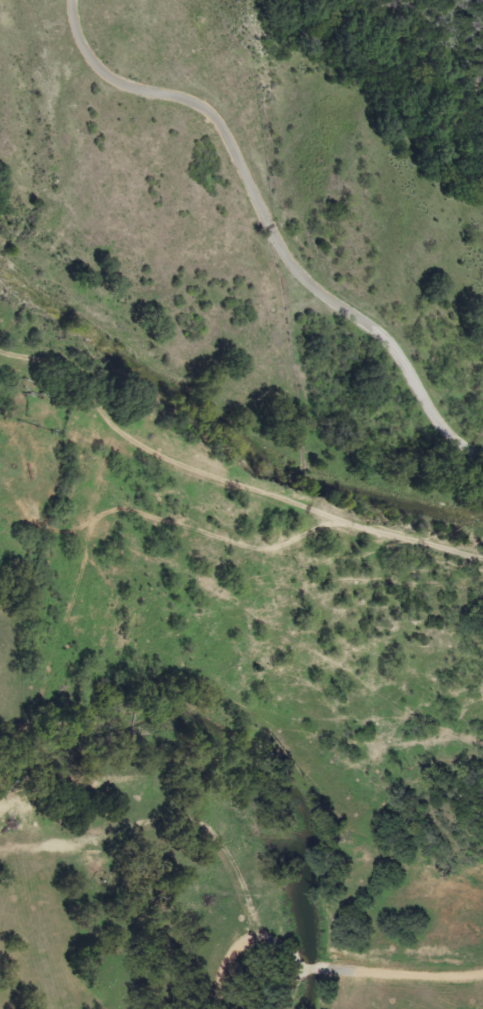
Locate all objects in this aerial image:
road: (272, 222)

